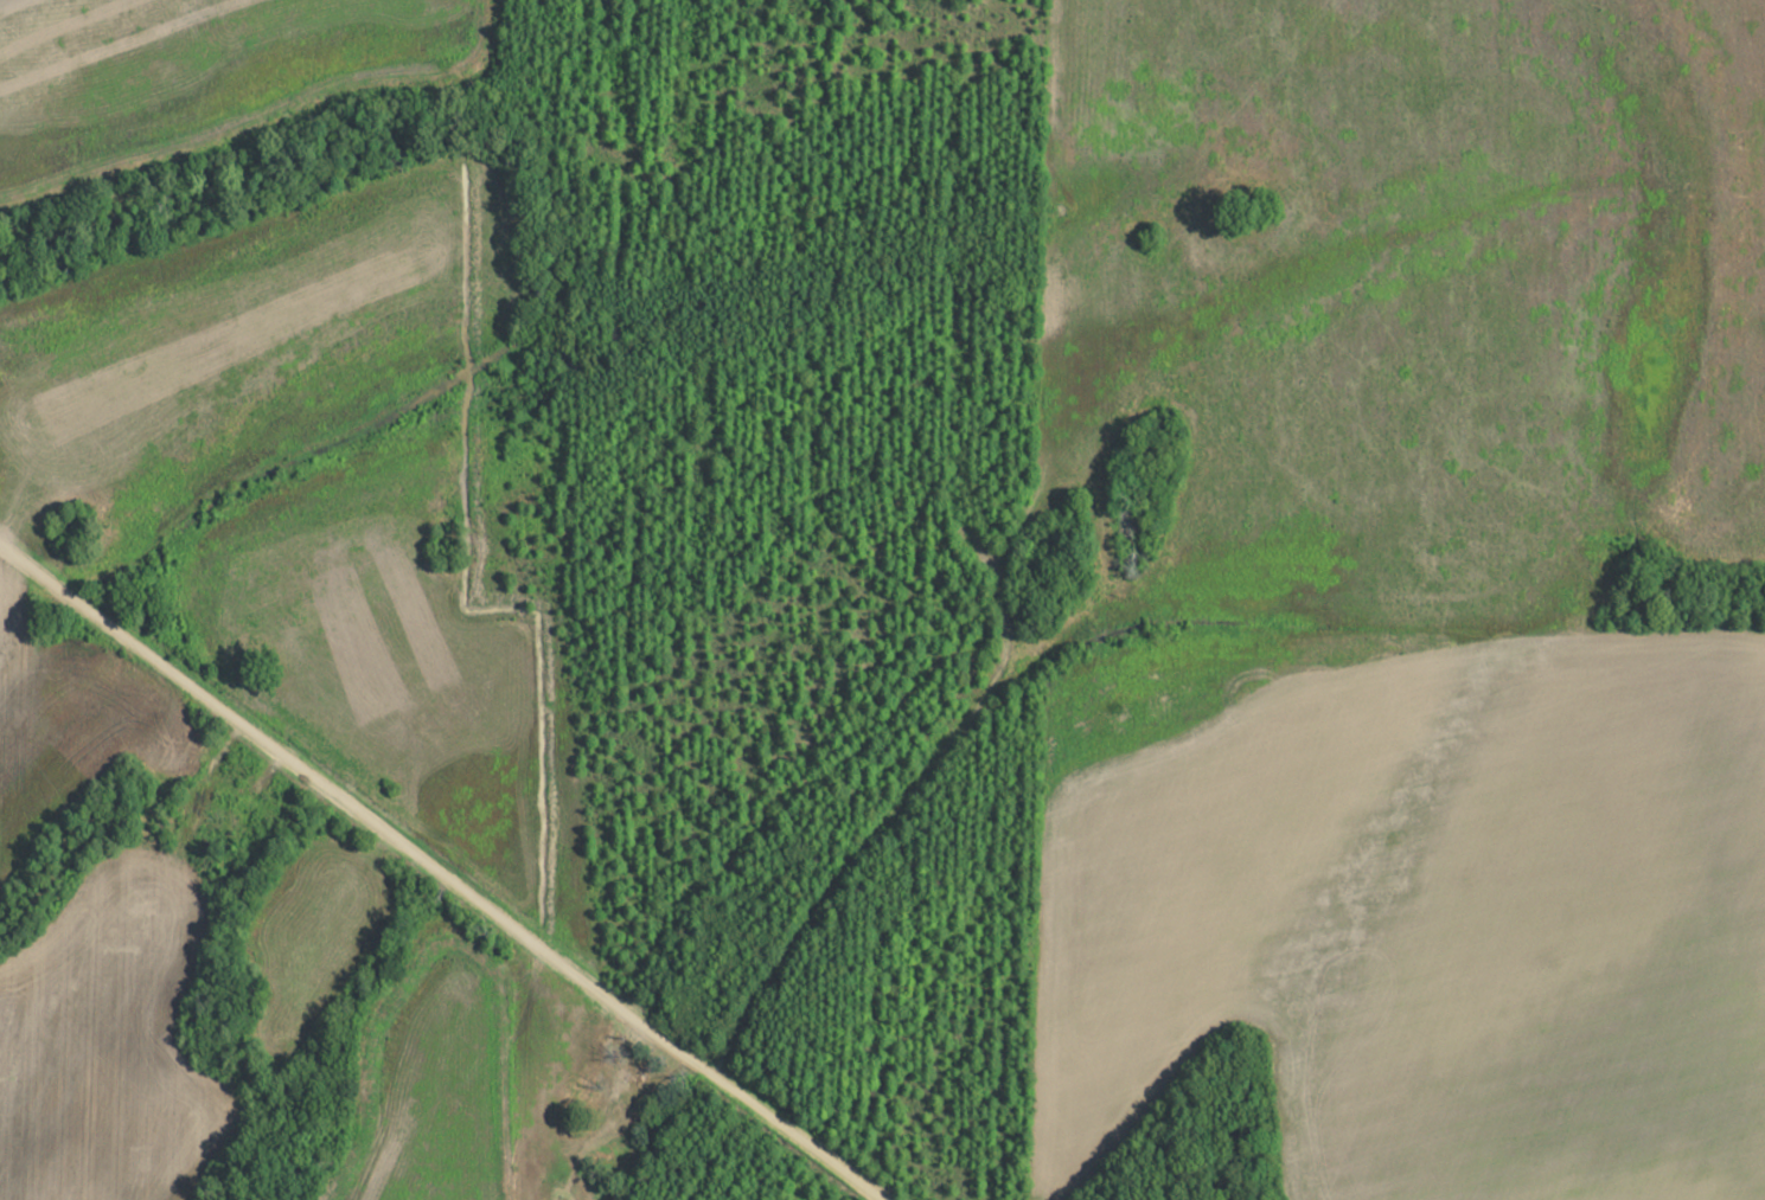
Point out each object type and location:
road: (1035, 659)
road: (738, 1090)

